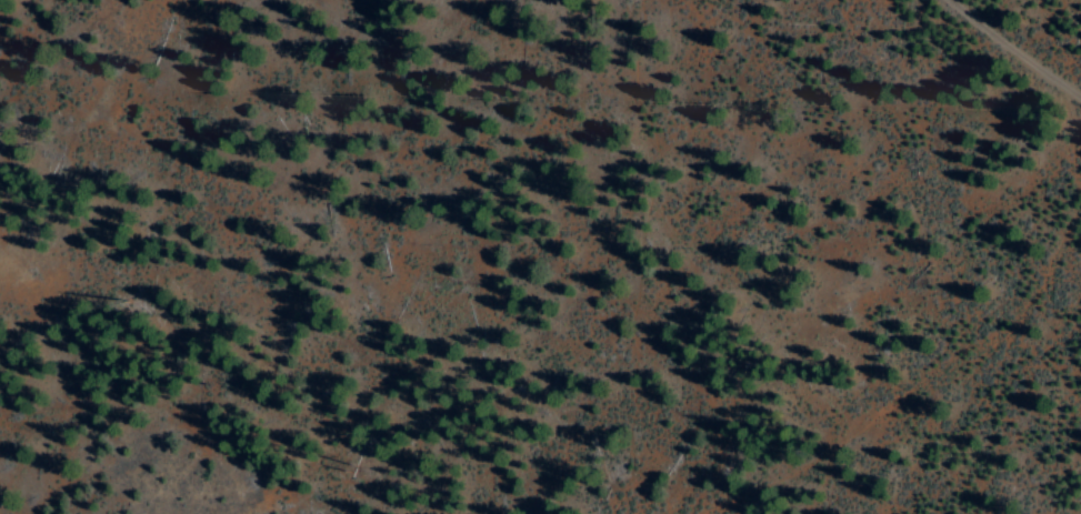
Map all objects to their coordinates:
road: (1022, 44)

